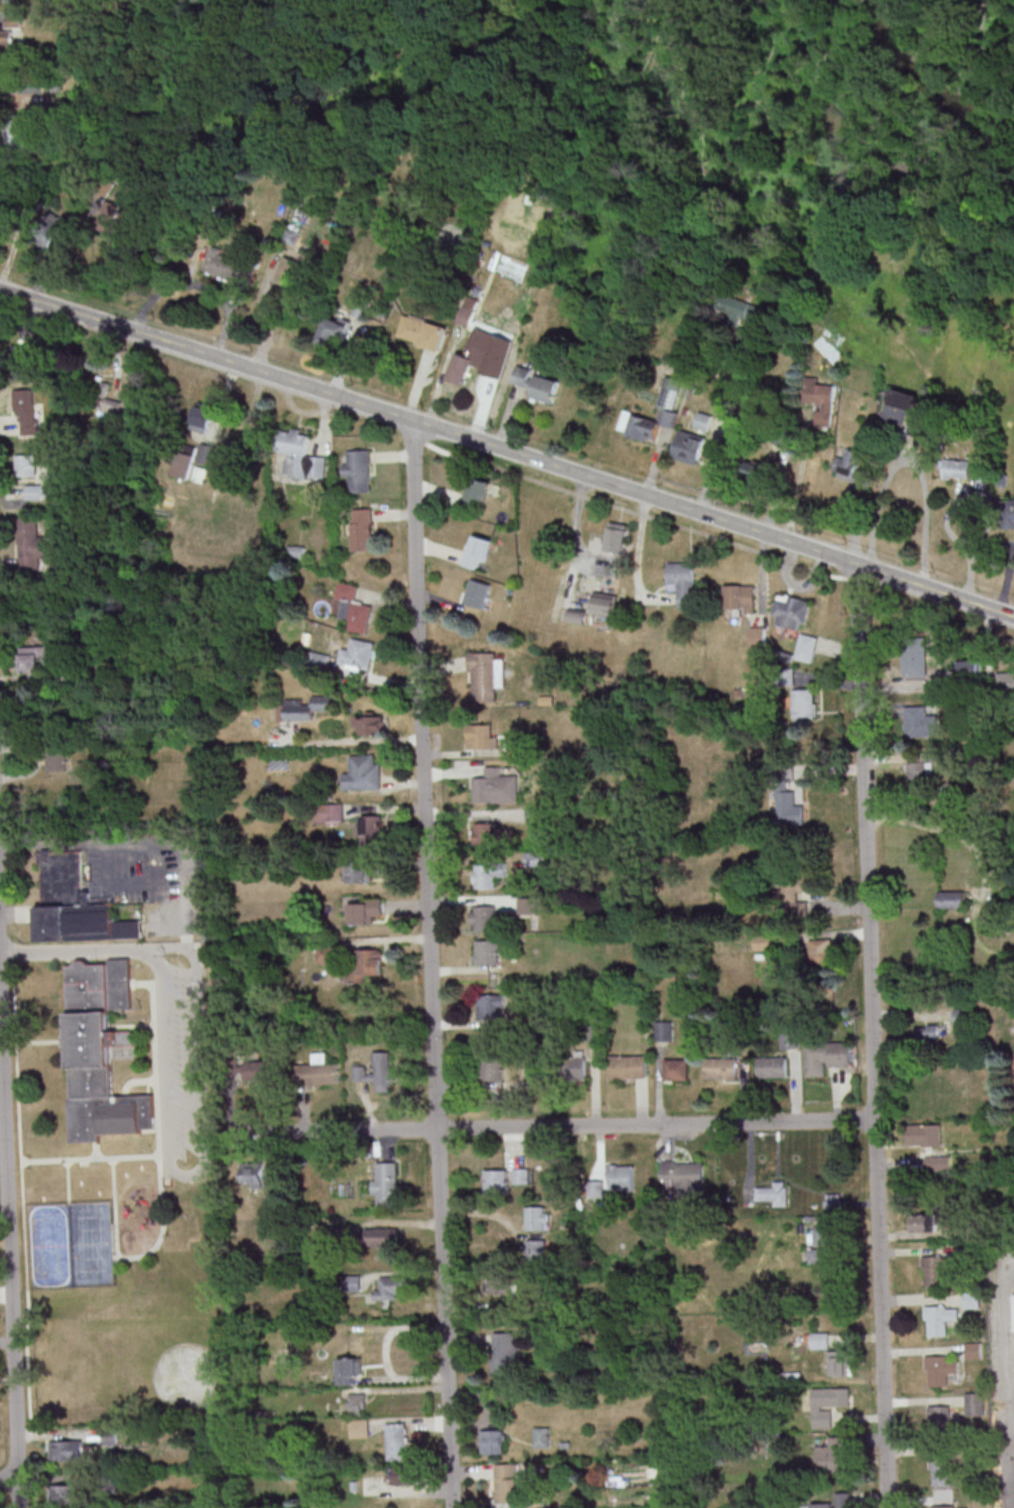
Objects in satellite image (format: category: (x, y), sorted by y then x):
building: (12, 18)
building: (5, 39)
river: (907, 52)
building: (30, 85)
river: (981, 127)
building: (18, 137)
building: (110, 217)
building: (44, 230)
road: (55, 253)
building: (228, 267)
building: (288, 270)
building: (468, 310)
building: (744, 311)
building: (422, 332)
building: (332, 333)
building: (467, 360)
building: (22, 361)
building: (545, 389)
building: (672, 395)
building: (101, 396)
building: (821, 401)
building: (899, 408)
building: (28, 411)
building: (201, 417)
building: (703, 421)
road: (722, 433)
building: (689, 447)
road: (507, 450)
building: (204, 453)
building: (300, 456)
road: (909, 462)
building: (25, 465)
building: (183, 465)
building: (849, 467)
building: (958, 468)
building: (356, 469)
building: (754, 470)
building: (33, 491)
building: (476, 492)
building: (890, 510)
building: (1008, 513)
building: (361, 529)
building: (616, 537)
building: (30, 543)
building: (477, 551)
building: (683, 581)
building: (477, 593)
building: (739, 599)
building: (603, 603)
building: (353, 608)
building: (790, 611)
building: (806, 647)
building: (358, 654)
building: (31, 658)
building: (914, 658)
building: (320, 660)
building: (970, 666)
building: (69, 671)
building: (481, 676)
building: (1005, 681)
building: (804, 703)
building: (305, 706)
building: (920, 722)
building: (370, 724)
building: (477, 735)
building: (57, 760)
building: (921, 769)
building: (359, 772)
building: (491, 786)
building: (786, 797)
building: (330, 812)
building: (370, 830)
building: (481, 833)
building: (533, 858)
building: (361, 868)
building: (481, 874)
building: (795, 896)
building: (951, 899)
building: (76, 905)
building: (358, 911)
building: (990, 914)
building: (482, 916)
building: (483, 950)
road: (72, 951)
building: (822, 952)
building: (325, 953)
building: (369, 962)
road: (431, 964)
building: (487, 1005)
road: (1, 1024)
building: (661, 1029)
building: (927, 1033)
road: (870, 1036)
building: (786, 1037)
building: (823, 1055)
building: (103, 1057)
parking lot: (174, 1061)
building: (625, 1065)
building: (576, 1066)
building: (718, 1066)
building: (768, 1066)
building: (488, 1067)
building: (674, 1068)
building: (257, 1070)
building: (318, 1071)
building: (377, 1071)
road: (554, 1123)
building: (924, 1135)
building: (937, 1164)
road: (201, 1168)
building: (252, 1174)
building: (520, 1175)
building: (621, 1176)
building: (681, 1176)
building: (492, 1180)
building: (385, 1183)
park: (125, 1184)
building: (596, 1190)
building: (770, 1192)
building: (537, 1218)
building: (926, 1222)
building: (381, 1237)
road: (10, 1242)
park: (91, 1244)
building: (822, 1244)
park: (49, 1246)
building: (536, 1249)
building: (966, 1249)
building: (933, 1268)
building: (352, 1282)
building: (499, 1285)
building: (392, 1288)
building: (969, 1299)
building: (937, 1318)
road: (1011, 1330)
building: (819, 1340)
building: (971, 1349)
building: (506, 1353)
park: (164, 1355)
building: (839, 1363)
building: (937, 1368)
building: (350, 1372)
building: (971, 1400)
building: (353, 1405)
building: (827, 1405)
building: (938, 1419)
building: (542, 1437)
building: (397, 1441)
building: (493, 1441)
building: (67, 1450)
building: (832, 1455)
building: (937, 1469)
building: (405, 1475)
road: (9, 1477)
building: (507, 1483)
building: (64, 1494)
building: (835, 1502)
building: (940, 1506)

